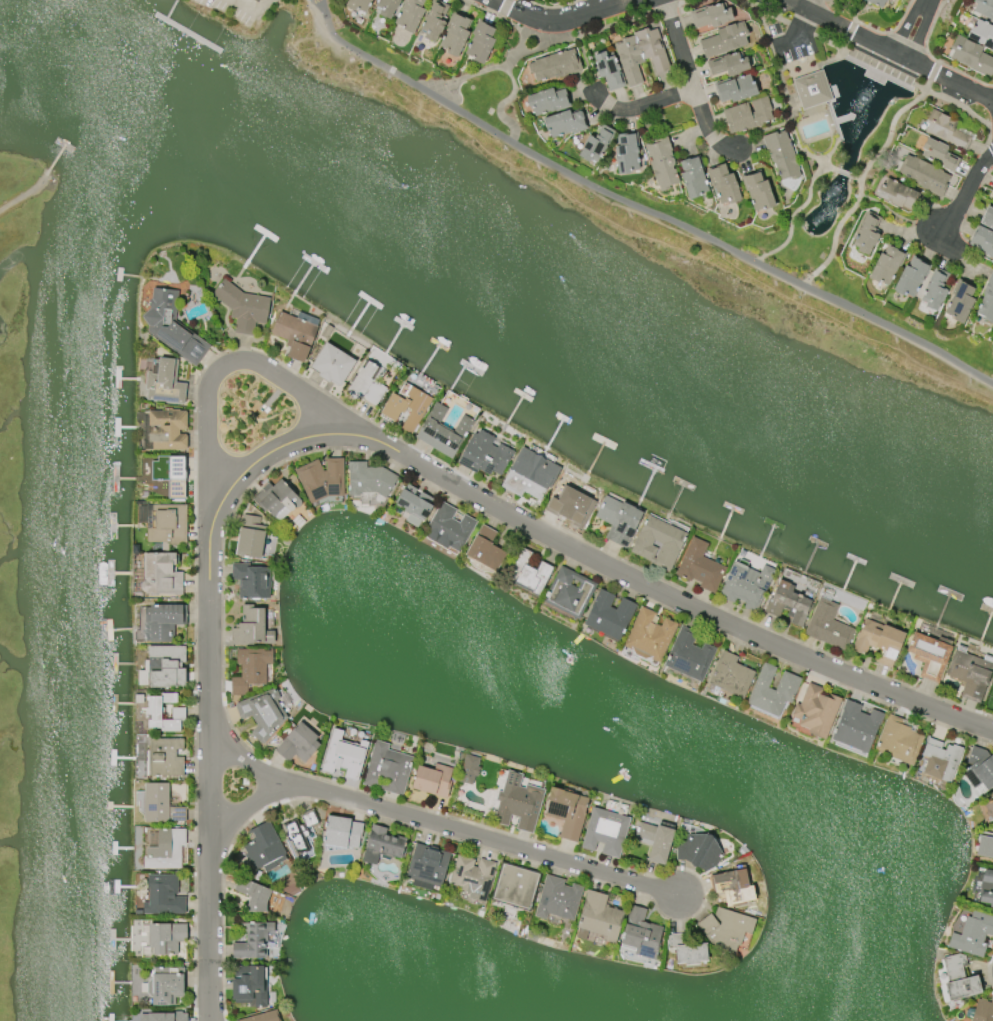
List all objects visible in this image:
building: (256, 1)
road: (498, 3)
road: (499, 3)
road: (807, 4)
building: (875, 4)
building: (358, 5)
road: (250, 6)
building: (386, 7)
building: (984, 8)
building: (409, 15)
building: (712, 16)
building: (433, 20)
road: (567, 21)
road: (906, 25)
road: (920, 30)
building: (454, 34)
building: (982, 34)
building: (726, 40)
building: (479, 43)
road: (889, 50)
building: (642, 55)
building: (972, 56)
building: (556, 65)
building: (729, 65)
road: (490, 71)
building: (609, 71)
road: (690, 82)
building: (736, 89)
building: (812, 89)
fountain: (862, 98)
fountain: (865, 99)
fountain: (861, 100)
building: (547, 101)
road: (503, 104)
road: (636, 108)
building: (748, 116)
building: (564, 123)
building: (946, 130)
building: (597, 144)
pier: (63, 145)
building: (627, 153)
building: (782, 155)
building: (940, 157)
pier: (55, 160)
building: (662, 163)
road: (844, 173)
road: (863, 175)
building: (925, 176)
building: (694, 178)
road: (856, 178)
building: (725, 184)
building: (758, 190)
road: (24, 193)
building: (897, 194)
fountain: (833, 195)
building: (992, 198)
road: (640, 209)
road: (955, 210)
road: (793, 214)
building: (988, 218)
fountain: (817, 222)
building: (868, 233)
building: (983, 241)
building: (887, 266)
building: (912, 278)
building: (936, 291)
building: (987, 301)
building: (961, 302)
river: (493, 306)
building: (242, 307)
building: (172, 326)
building: (295, 333)
building: (332, 364)
road: (221, 367)
road: (303, 374)
building: (164, 383)
building: (366, 385)
building: (405, 406)
building: (164, 429)
building: (442, 431)
road: (364, 432)
building: (485, 455)
building: (170, 474)
building: (531, 475)
building: (321, 479)
building: (368, 479)
building: (276, 500)
building: (414, 502)
building: (571, 506)
building: (619, 520)
building: (167, 523)
building: (448, 527)
building: (250, 537)
building: (659, 543)
building: (486, 550)
building: (701, 567)
building: (527, 573)
building: (161, 575)
building: (251, 581)
building: (747, 585)
building: (570, 593)
building: (788, 603)
building: (610, 615)
building: (160, 621)
building: (828, 626)
building: (251, 628)
building: (650, 635)
building: (879, 642)
building: (689, 656)
building: (930, 656)
building: (163, 667)
building: (250, 669)
building: (971, 673)
building: (732, 675)
building: (773, 691)
building: (816, 711)
building: (164, 712)
building: (261, 713)
building: (857, 727)
building: (899, 741)
building: (298, 744)
building: (343, 754)
building: (164, 757)
road: (239, 758)
building: (941, 762)
building: (980, 768)
building: (387, 769)
building: (469, 769)
building: (432, 780)
building: (991, 796)
road: (239, 803)
building: (160, 805)
building: (519, 807)
building: (989, 808)
building: (567, 812)
building: (301, 832)
building: (342, 832)
building: (606, 832)
building: (656, 841)
road: (477, 842)
building: (382, 845)
building: (985, 845)
building: (263, 848)
building: (165, 850)
building: (699, 852)
building: (427, 866)
building: (473, 877)
building: (734, 886)
building: (516, 887)
building: (987, 888)
building: (253, 894)
building: (163, 896)
building: (559, 899)
building: (600, 918)
building: (726, 929)
building: (642, 934)
building: (974, 934)
building: (166, 937)
building: (253, 941)
building: (688, 951)
building: (959, 979)
building: (165, 985)
building: (249, 985)
building: (983, 1011)
building: (163, 1017)
building: (262, 1017)

